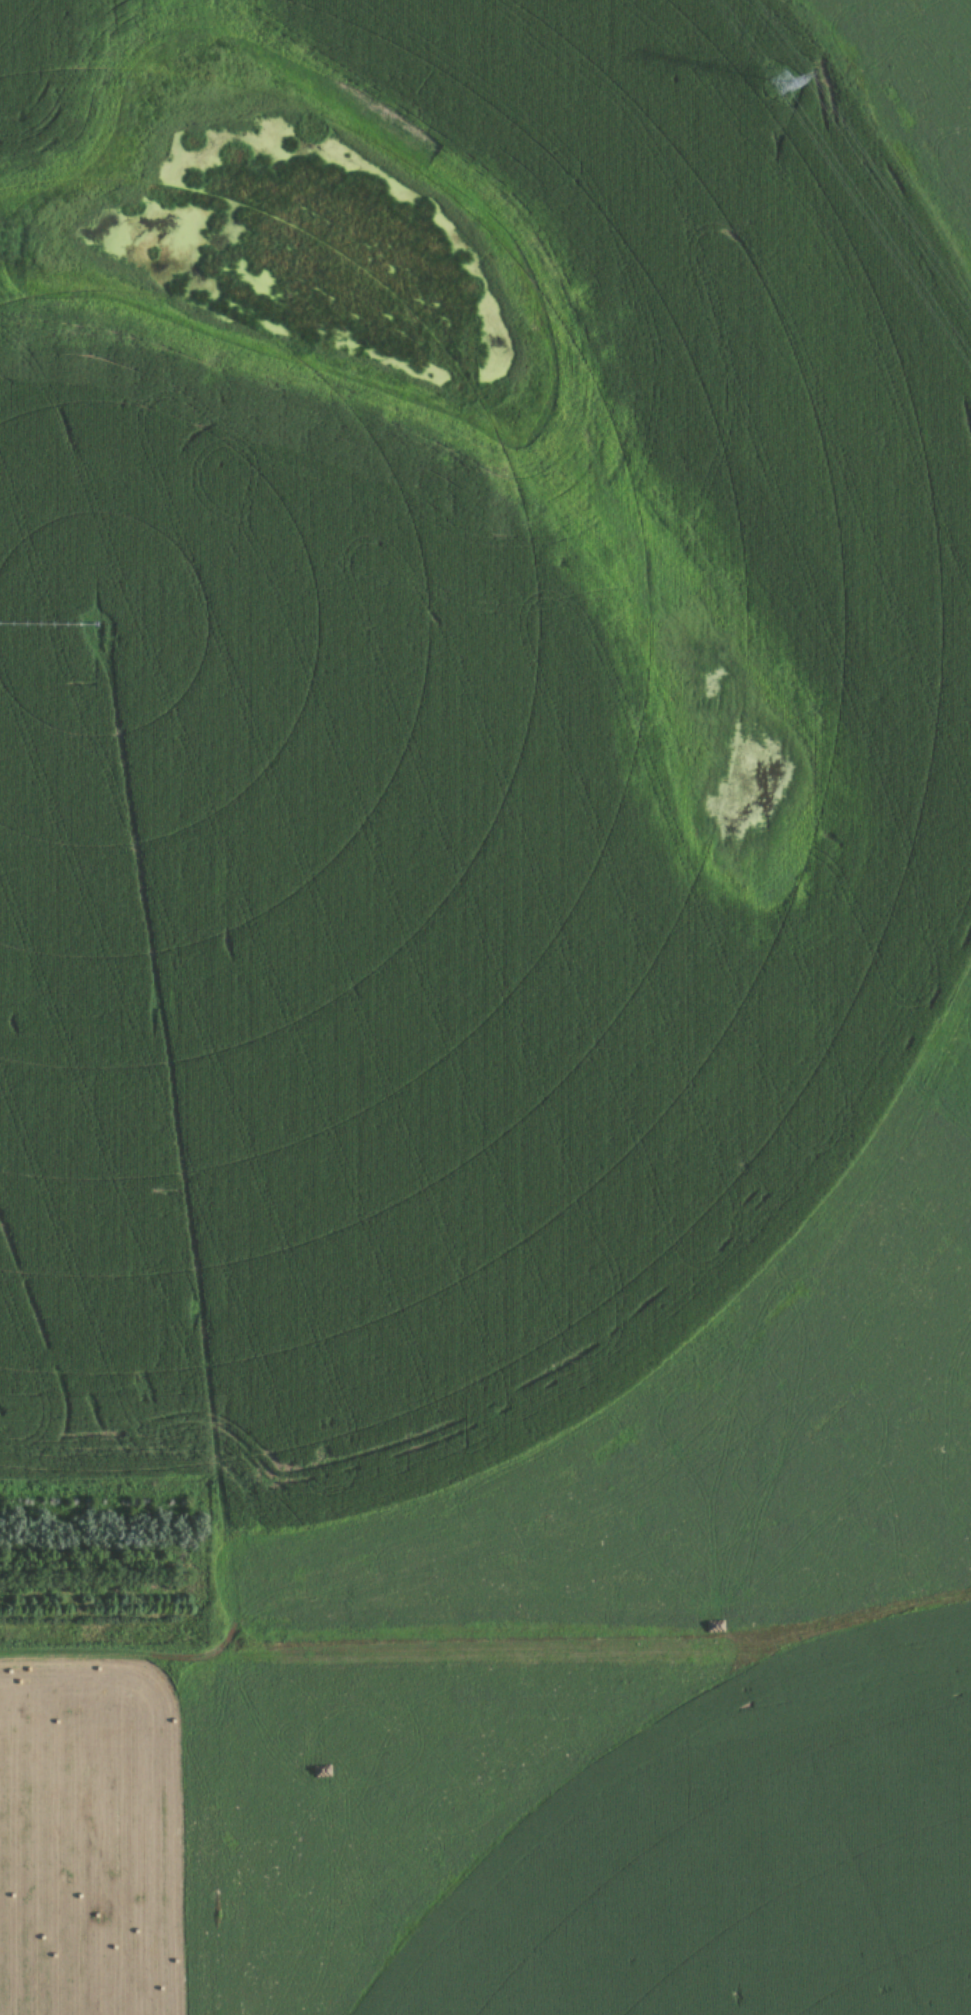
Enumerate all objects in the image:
power tower: (777, 84)

